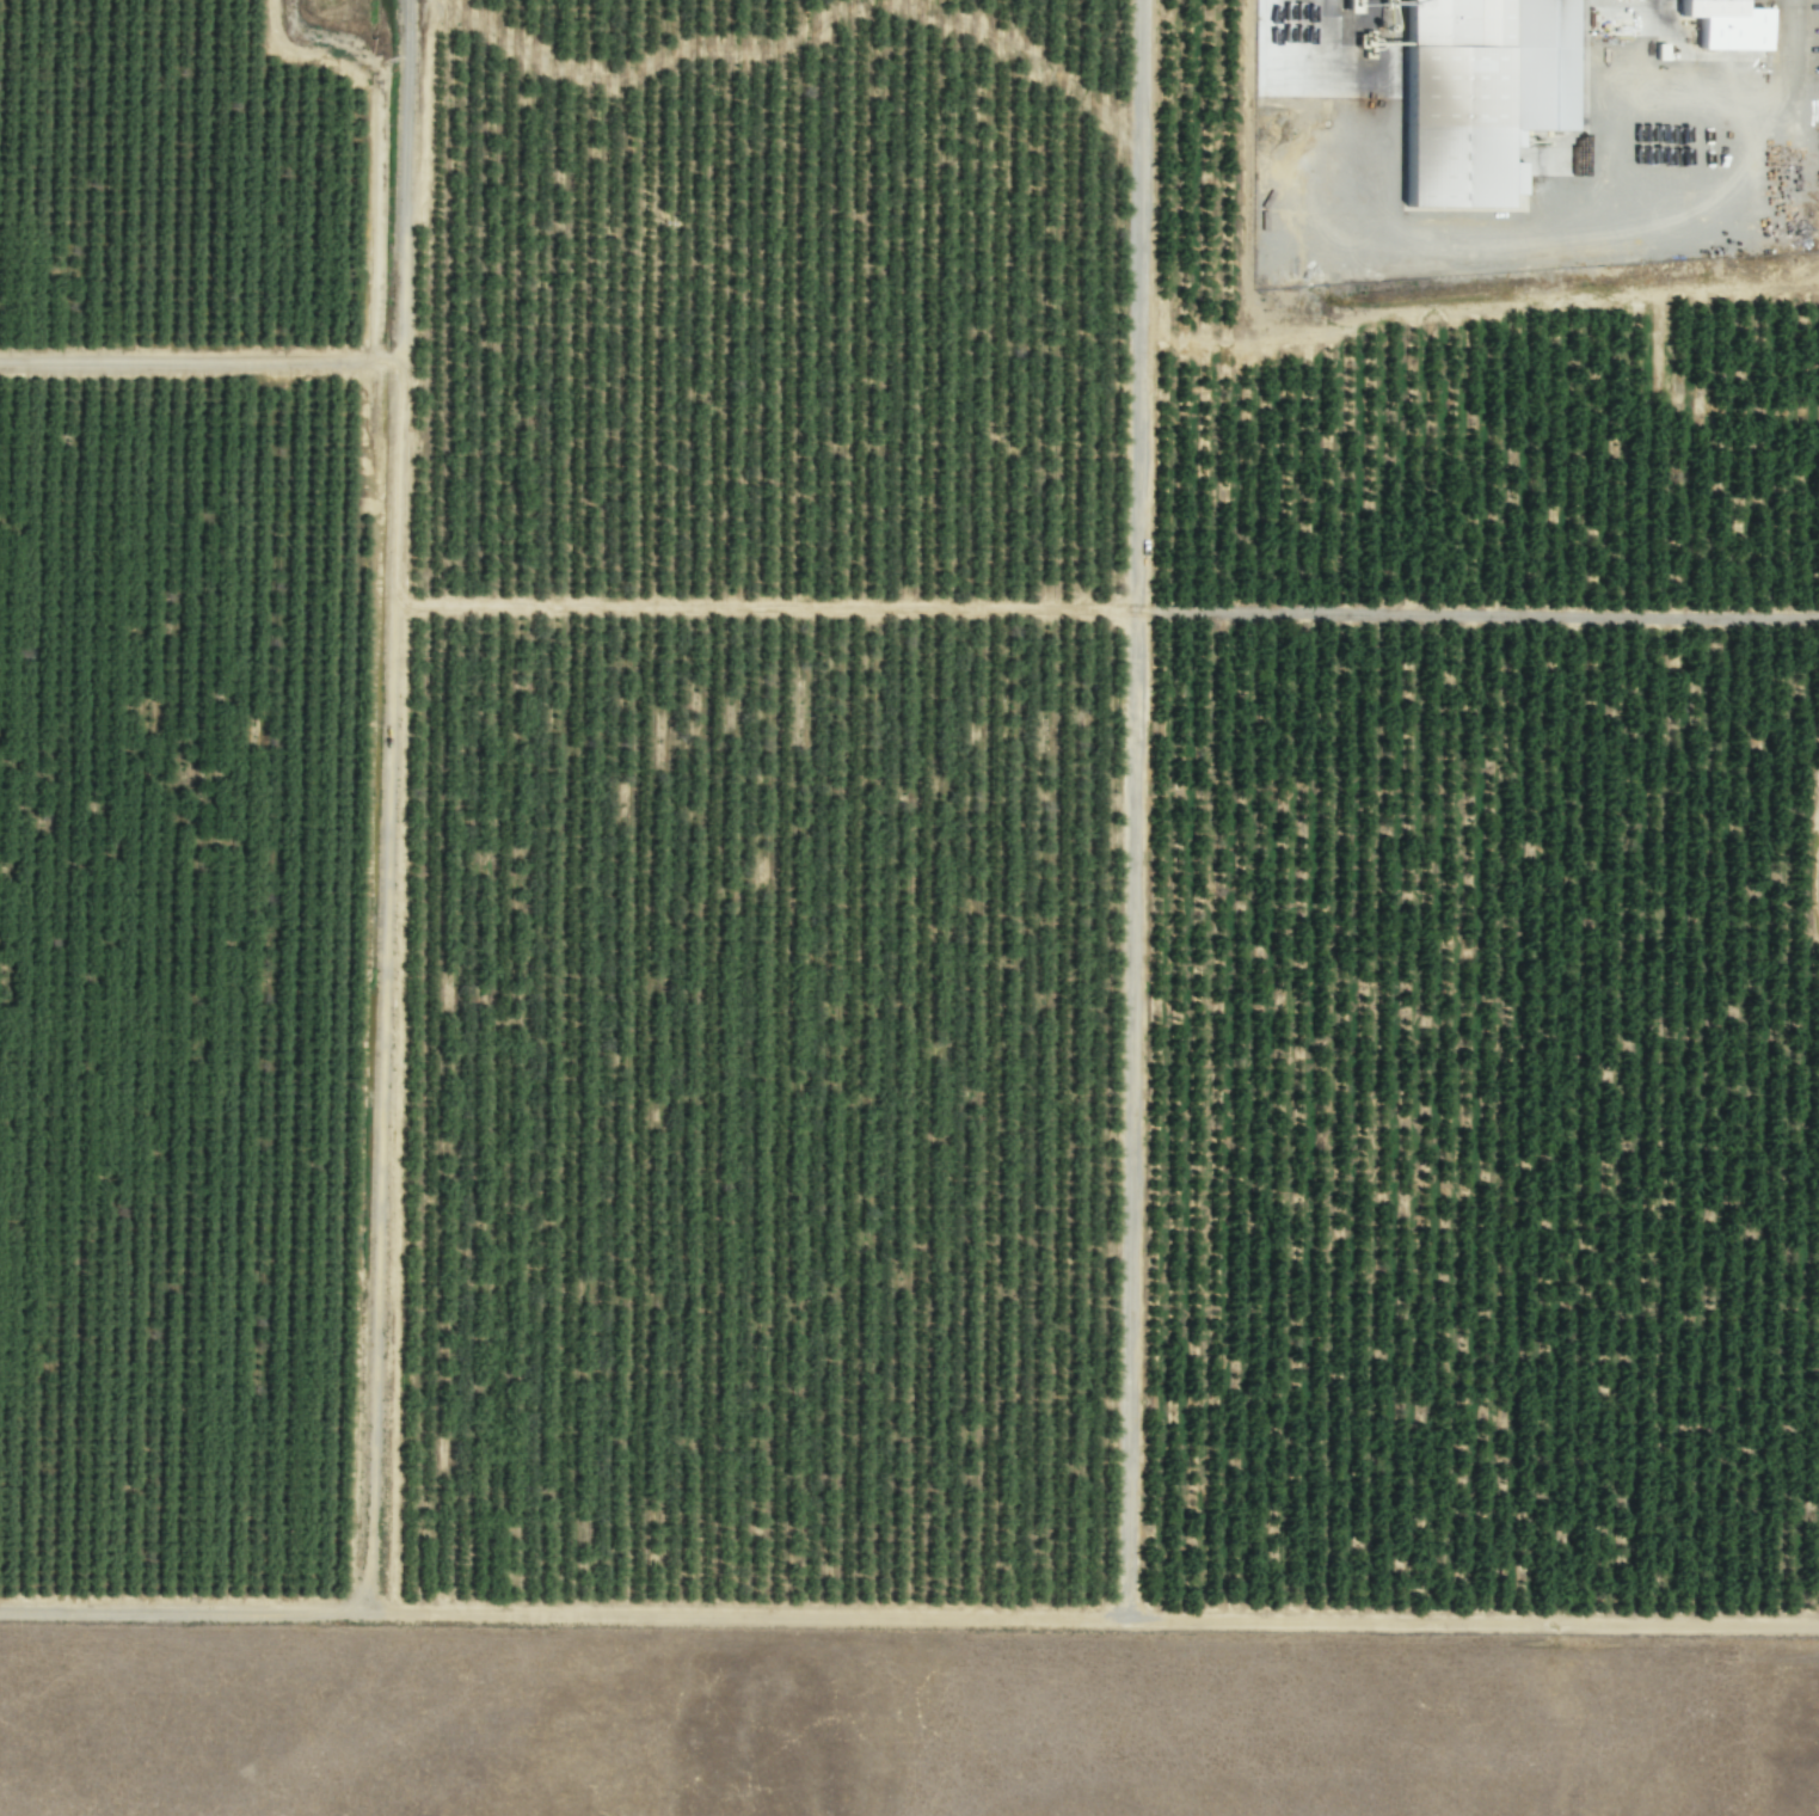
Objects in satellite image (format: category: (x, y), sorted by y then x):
building: (1712, 23)
building: (1475, 90)
road: (198, 360)
road: (762, 609)
road: (1476, 614)
road: (383, 806)
road: (1135, 810)
road: (909, 1619)

